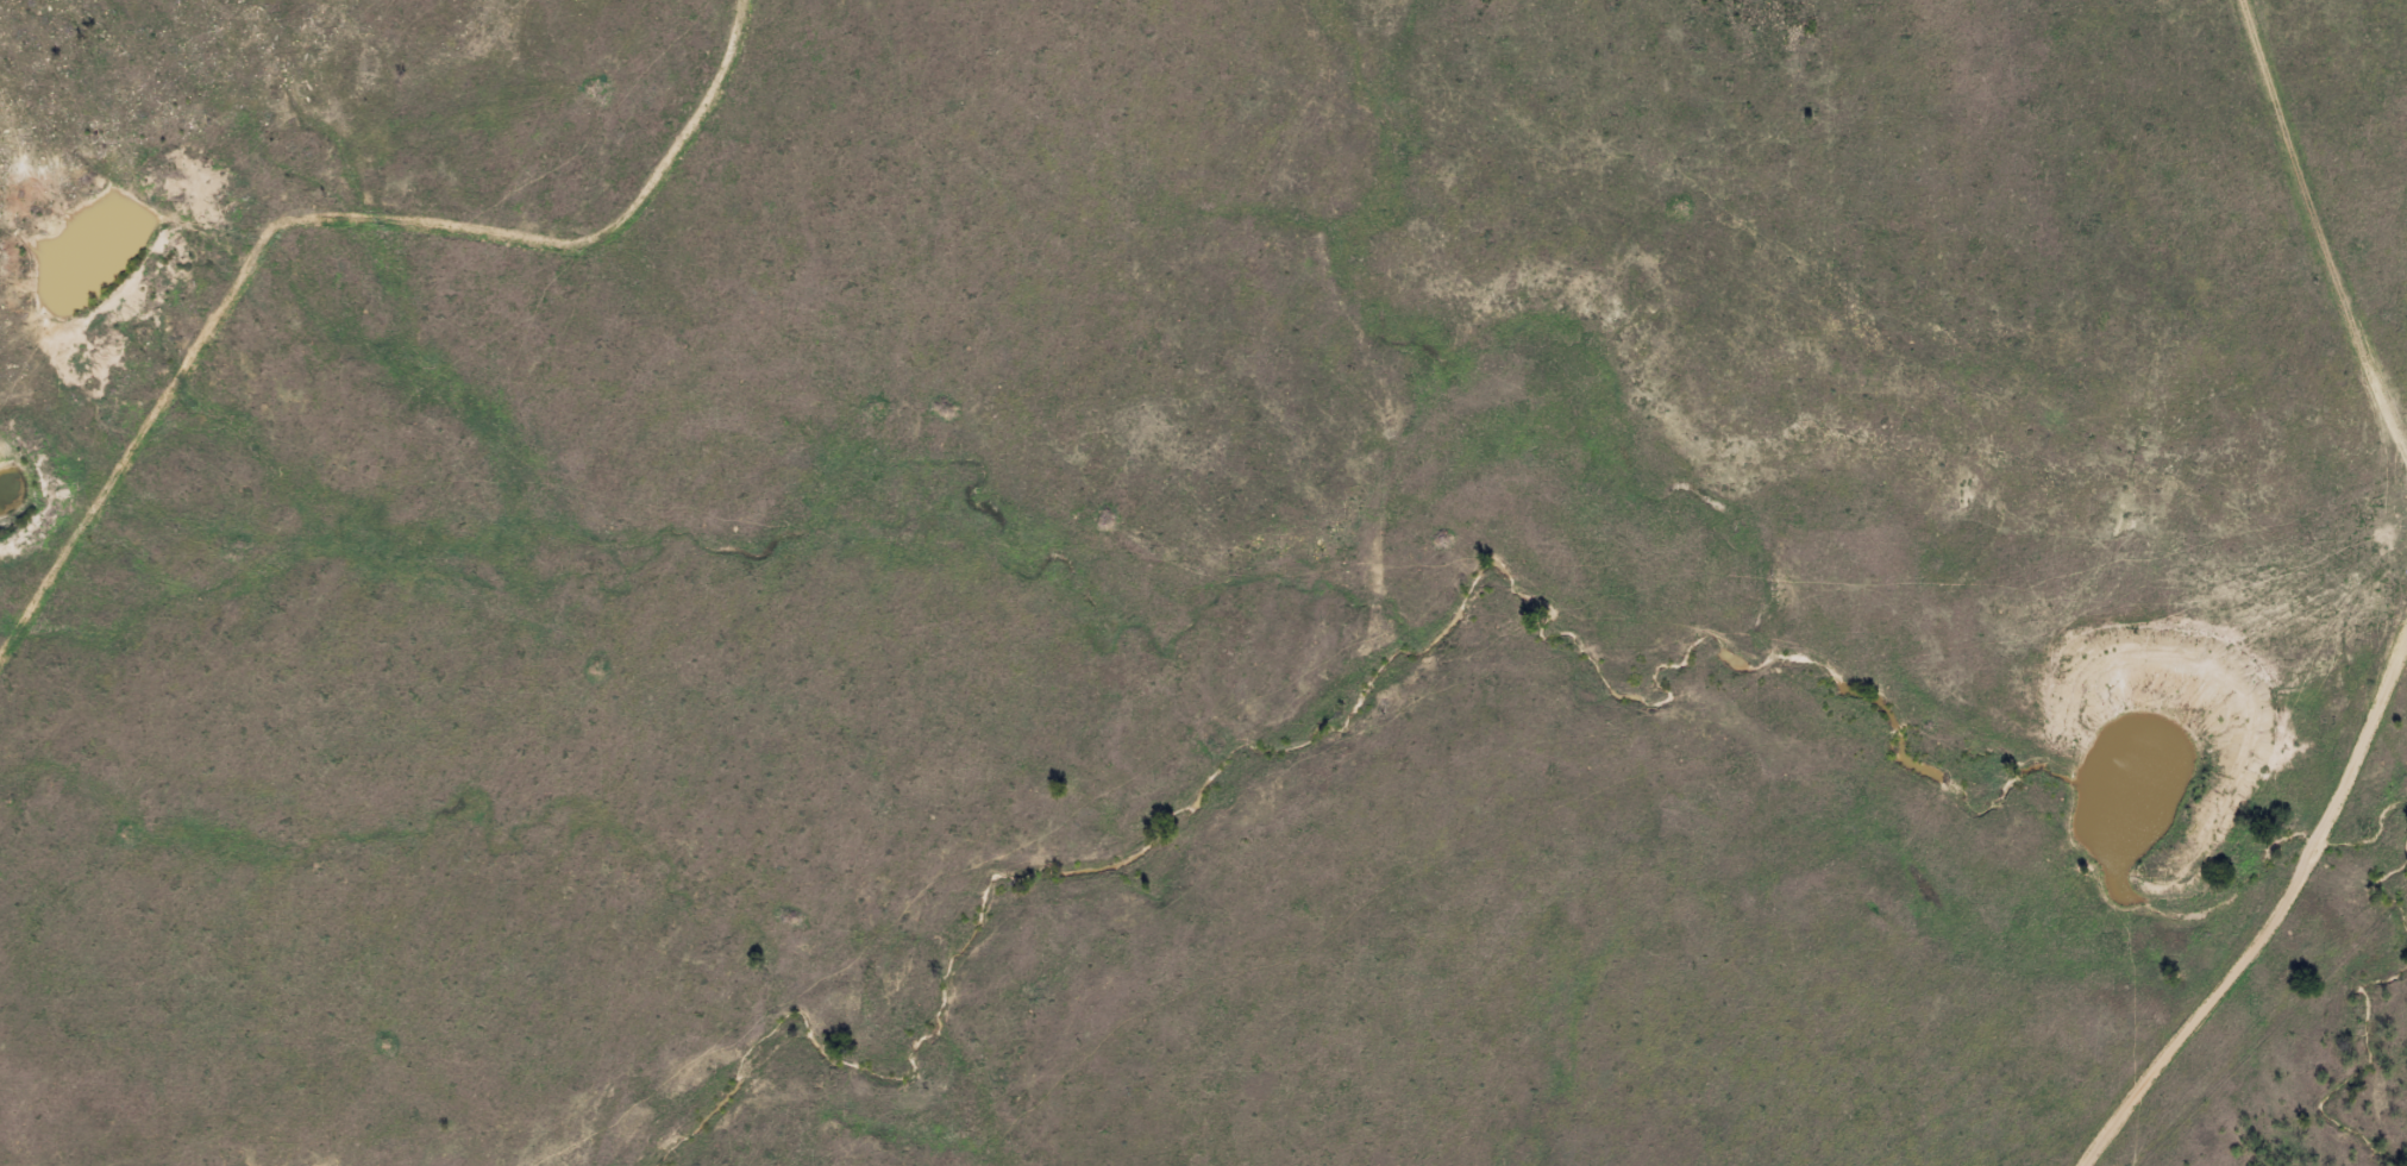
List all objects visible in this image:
road: (2301, 226)
road: (431, 458)
road: (2237, 899)

